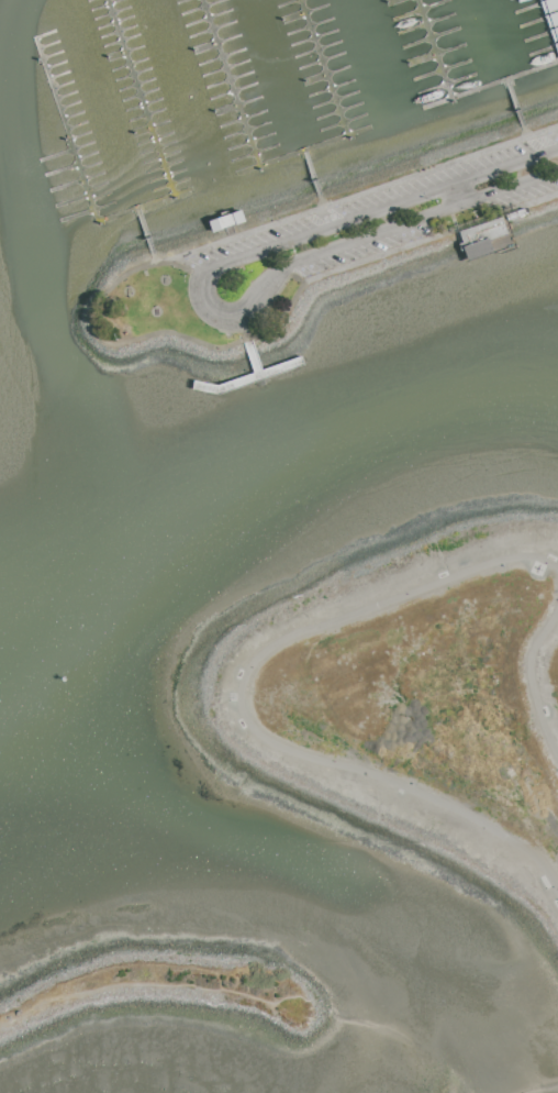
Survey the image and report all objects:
pier: (553, 13)
building: (551, 19)
pier: (325, 67)
pier: (232, 82)
pier: (513, 95)
pier: (457, 96)
road: (523, 124)
pier: (153, 131)
pier: (336, 137)
pier: (74, 150)
pier: (286, 155)
road: (319, 194)
building: (227, 220)
building: (481, 238)
road: (152, 251)
pier: (503, 263)
pier: (492, 277)
road: (205, 296)
road: (104, 320)
pier: (254, 360)
pier: (248, 378)
road: (532, 682)
park: (410, 698)
road: (243, 711)
road: (516, 763)
road: (555, 886)

